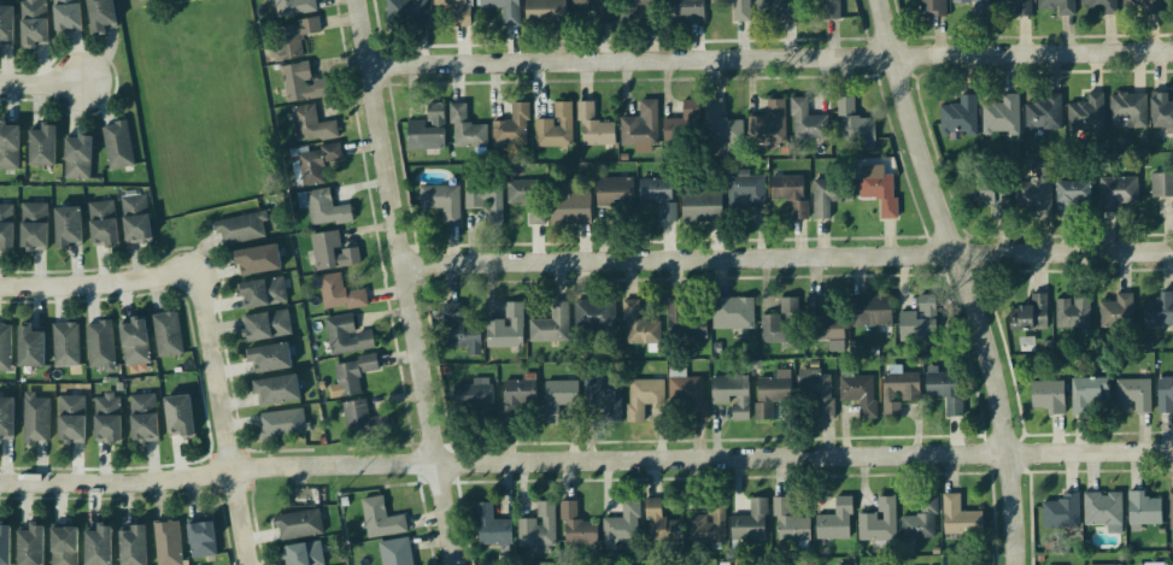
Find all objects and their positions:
building: (1169, 2)
building: (1057, 6)
building: (1142, 6)
building: (975, 7)
building: (1016, 7)
building: (1098, 7)
building: (294, 8)
building: (594, 8)
building: (931, 8)
building: (632, 10)
building: (641, 10)
building: (737, 10)
building: (826, 10)
building: (456, 11)
building: (504, 11)
building: (776, 11)
building: (684, 12)
building: (406, 13)
building: (545, 13)
building: (99, 16)
building: (64, 17)
building: (33, 24)
building: (6, 28)
building: (294, 37)
road: (769, 60)
road: (41, 84)
building: (301, 86)
building: (1043, 113)
building: (1127, 113)
building: (1161, 113)
building: (1087, 114)
building: (960, 118)
building: (1001, 118)
building: (807, 123)
building: (854, 124)
building: (311, 126)
building: (682, 126)
building: (720, 126)
building: (427, 128)
building: (512, 128)
building: (593, 128)
building: (769, 128)
building: (556, 129)
building: (465, 130)
building: (639, 131)
building: (40, 147)
building: (117, 147)
building: (8, 148)
building: (76, 159)
building: (316, 165)
building: (1162, 187)
building: (1034, 190)
building: (746, 193)
building: (788, 193)
building: (984, 193)
building: (880, 194)
building: (1119, 194)
building: (615, 195)
building: (829, 195)
building: (993, 195)
building: (659, 198)
building: (1072, 198)
building: (485, 200)
building: (528, 200)
building: (441, 204)
building: (700, 207)
building: (325, 211)
building: (570, 211)
building: (135, 220)
building: (101, 225)
building: (6, 228)
building: (33, 229)
building: (66, 229)
building: (241, 230)
building: (332, 253)
road: (787, 258)
building: (256, 263)
road: (963, 278)
road: (404, 282)
road: (99, 286)
building: (262, 295)
building: (341, 296)
building: (1159, 312)
building: (1116, 313)
building: (1032, 314)
building: (1073, 314)
building: (733, 316)
building: (594, 317)
building: (687, 320)
building: (869, 320)
building: (926, 320)
building: (781, 325)
building: (551, 326)
building: (266, 328)
building: (638, 328)
building: (827, 329)
building: (506, 330)
building: (463, 335)
building: (166, 336)
building: (346, 337)
building: (133, 343)
building: (65, 347)
building: (100, 347)
building: (30, 348)
building: (5, 349)
building: (268, 360)
building: (137, 371)
building: (352, 376)
building: (946, 392)
building: (275, 393)
building: (897, 394)
building: (518, 395)
building: (858, 395)
building: (688, 396)
building: (732, 396)
building: (769, 396)
building: (817, 396)
building: (1089, 396)
building: (1165, 396)
building: (604, 398)
building: (643, 398)
building: (1134, 398)
building: (473, 399)
building: (1048, 399)
building: (557, 400)
building: (177, 418)
road: (221, 418)
building: (6, 420)
building: (35, 420)
building: (70, 420)
building: (106, 420)
building: (142, 420)
building: (357, 420)
building: (281, 426)
road: (586, 460)
building: (1103, 511)
building: (1171, 512)
building: (1061, 513)
building: (1143, 513)
building: (960, 519)
building: (380, 520)
building: (921, 522)
building: (835, 523)
building: (878, 523)
building: (751, 524)
building: (788, 524)
building: (708, 525)
building: (298, 526)
building: (623, 526)
building: (661, 526)
building: (492, 528)
building: (538, 529)
building: (576, 529)
building: (200, 541)
building: (166, 543)
building: (5, 546)
building: (29, 547)
building: (64, 547)
building: (96, 547)
building: (130, 547)
building: (395, 553)
building: (303, 555)

